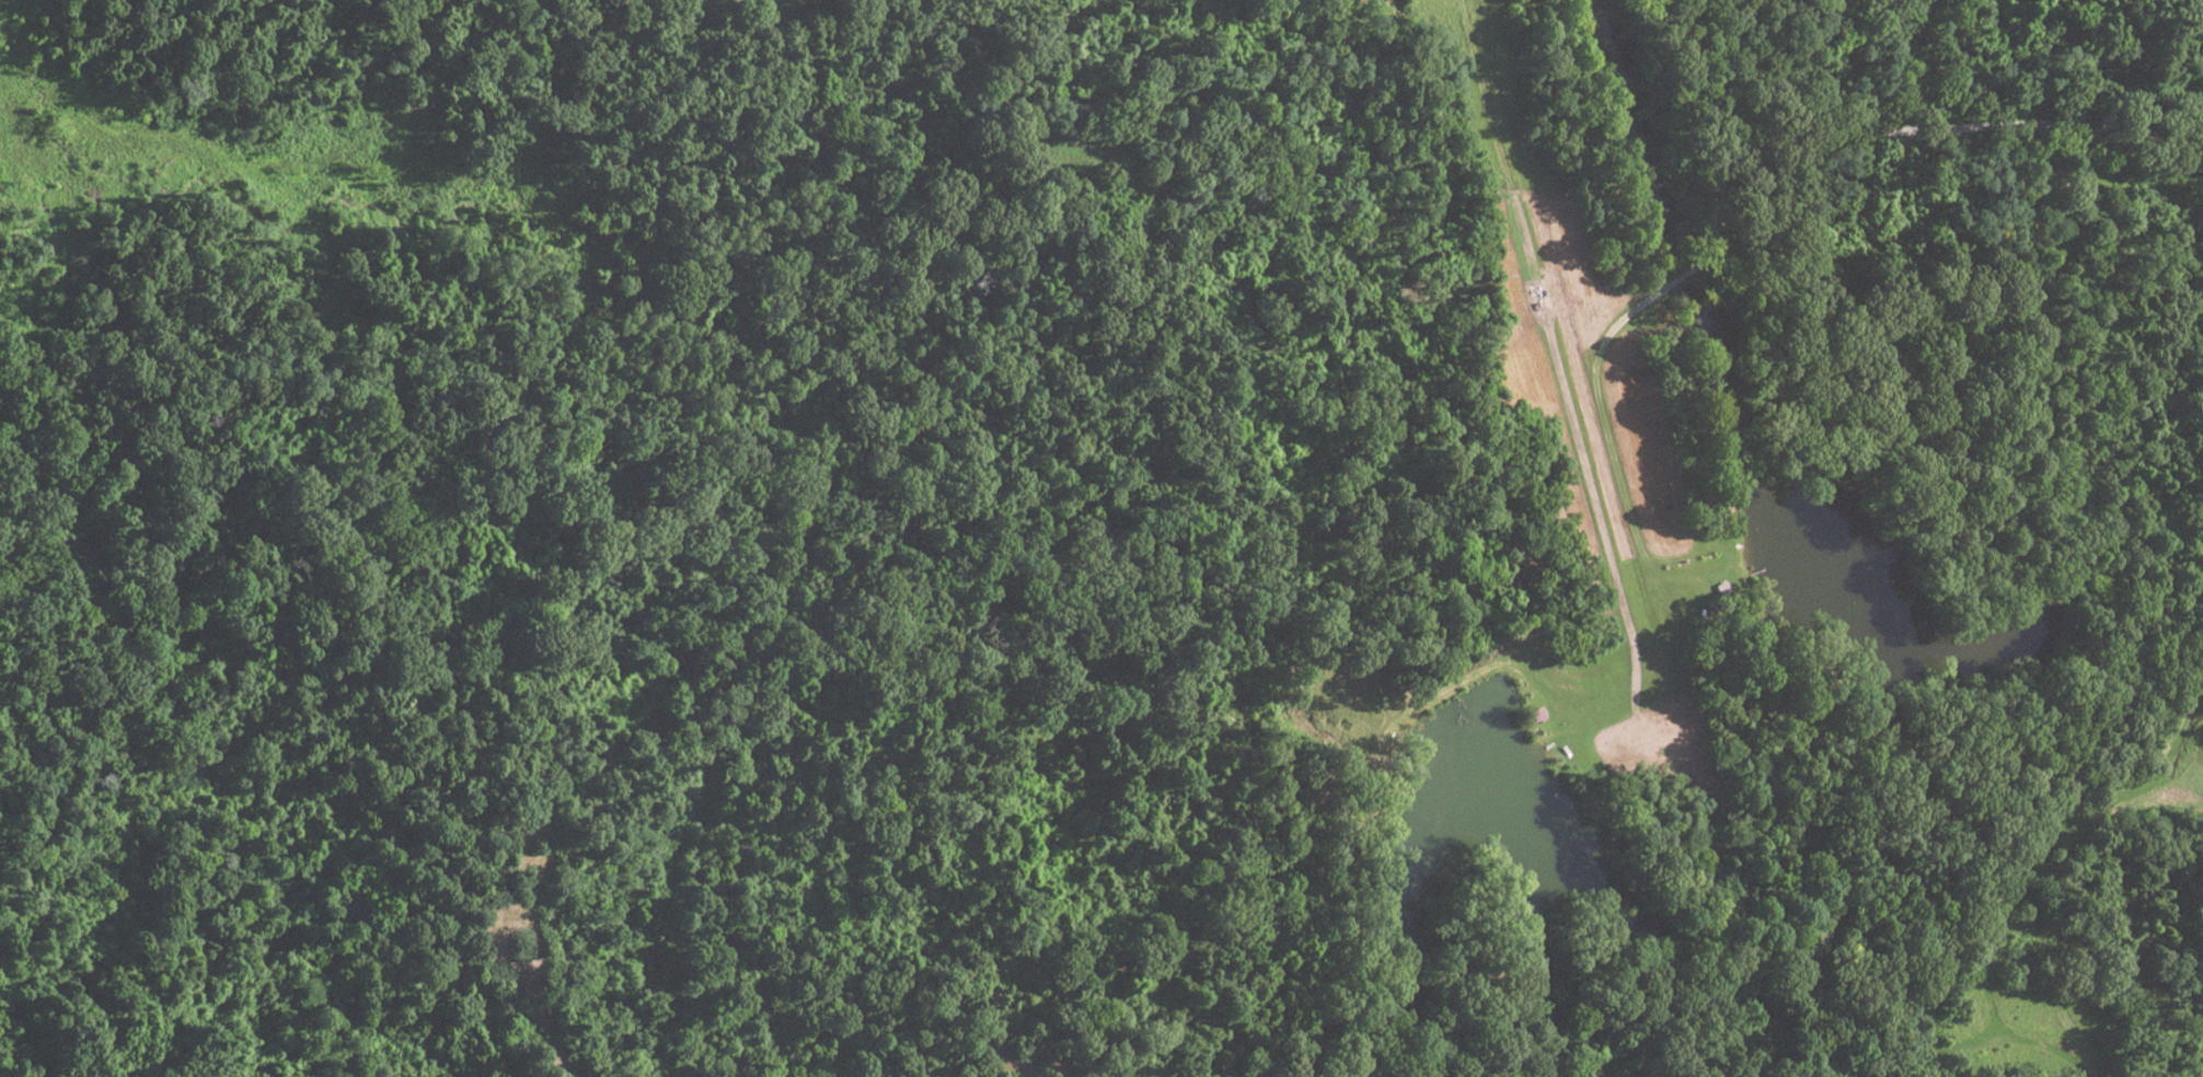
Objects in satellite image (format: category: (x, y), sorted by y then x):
road: (1553, 346)

